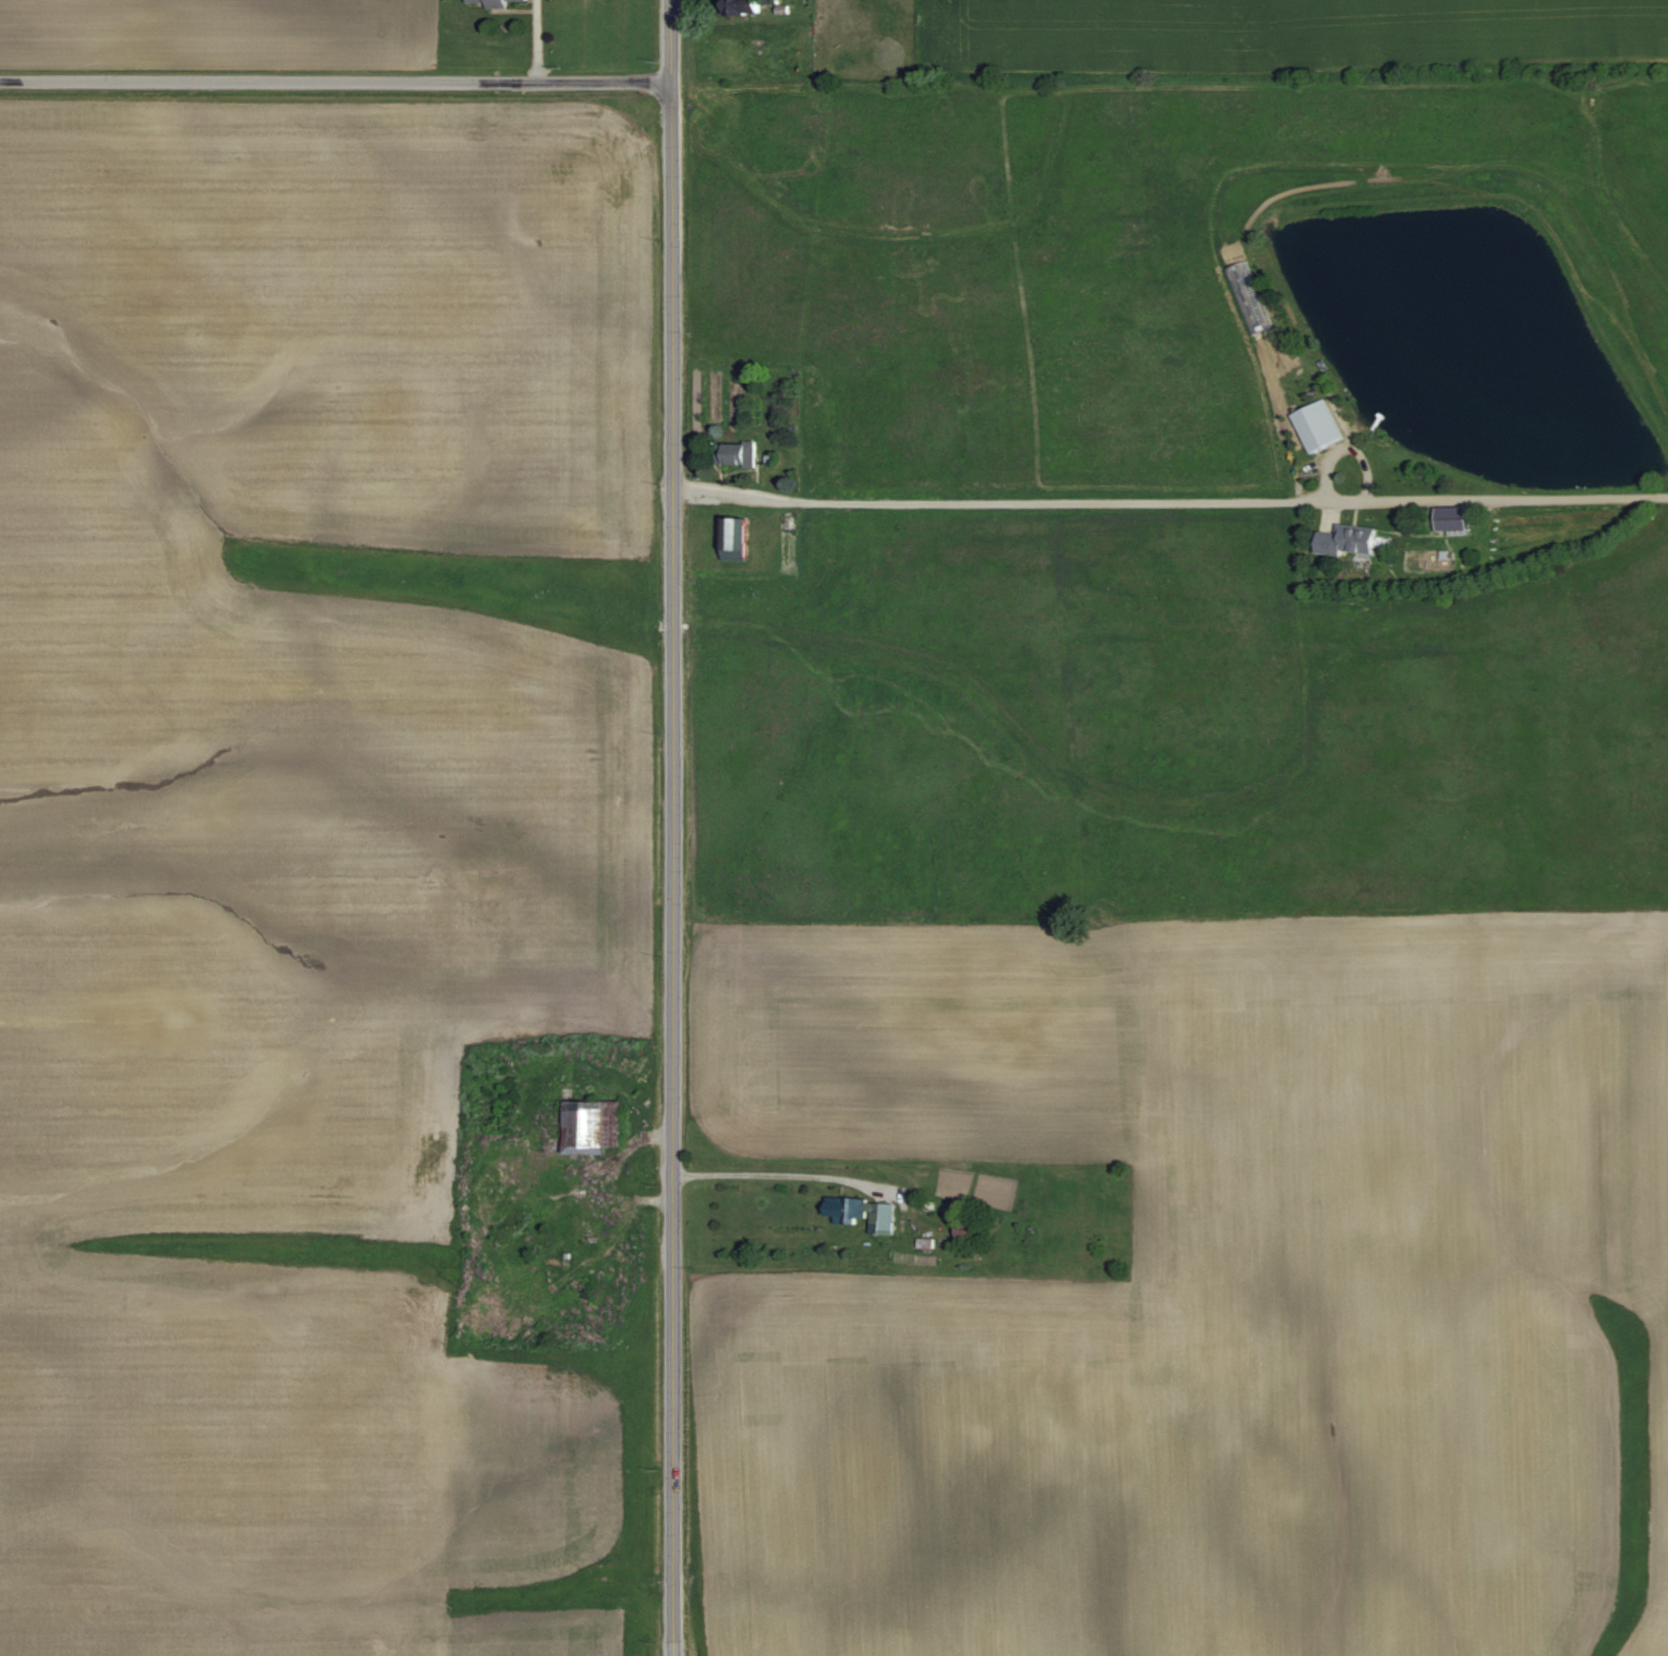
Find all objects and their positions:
building: (497, 2)
building: (748, 5)
road: (334, 81)
building: (1319, 425)
building: (739, 452)
road: (1086, 500)
building: (739, 536)
building: (1352, 539)
road: (671, 828)
building: (595, 1127)
road: (781, 1172)
road: (596, 1178)
building: (867, 1213)
building: (970, 1233)

